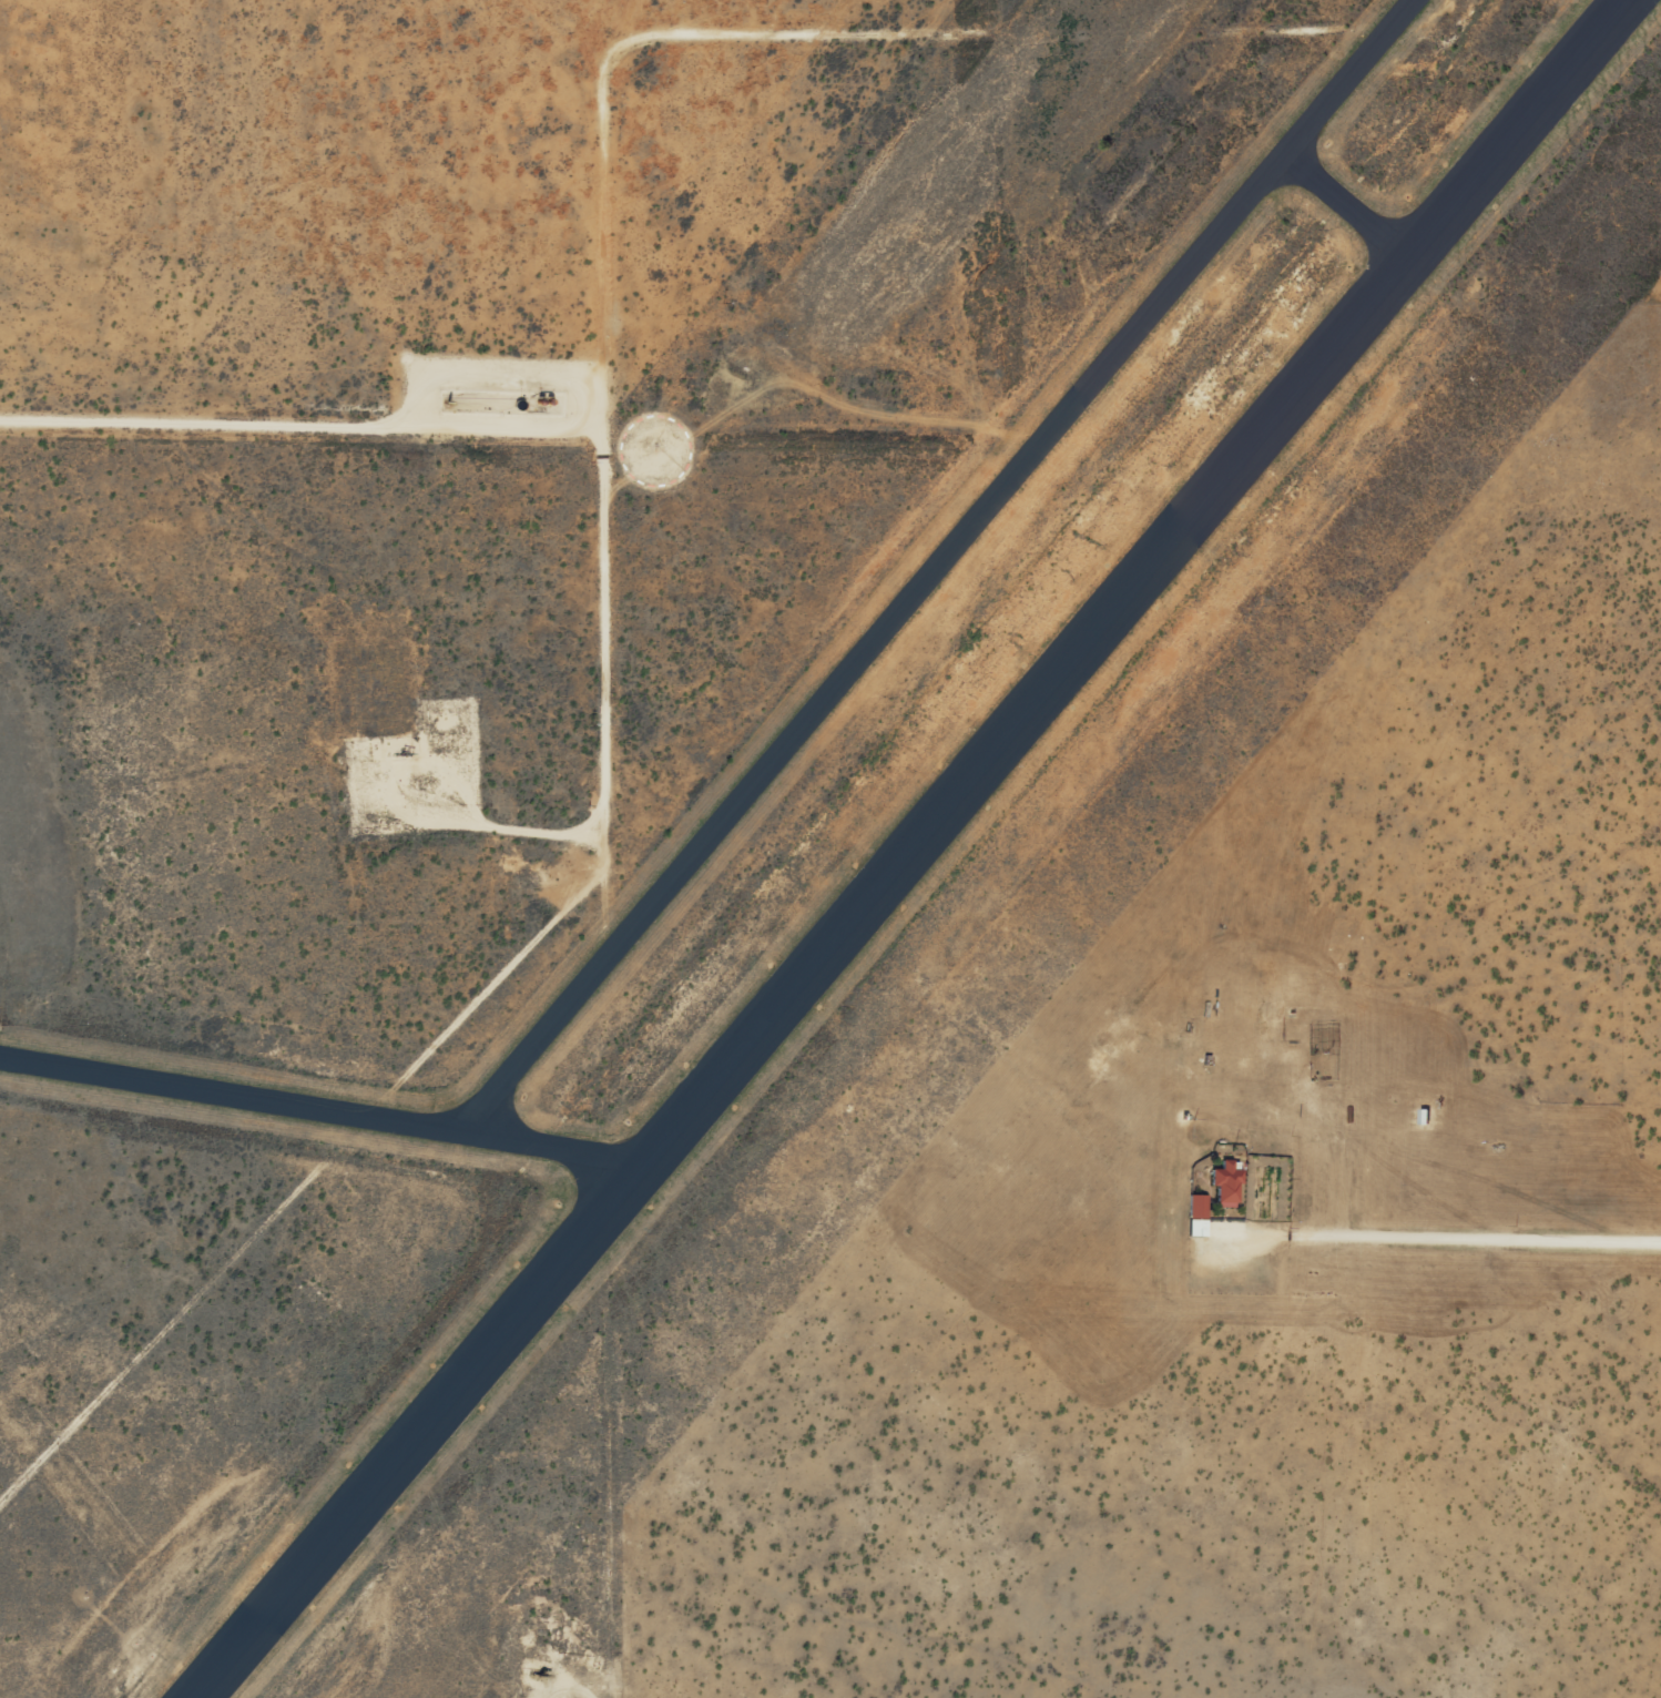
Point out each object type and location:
airport taxiway: (1351, 205)
road: (598, 484)
airport taxiway: (940, 568)
airport: (692, 795)
airport runway: (914, 848)
airport taxiway: (323, 1112)
road: (1488, 1210)

